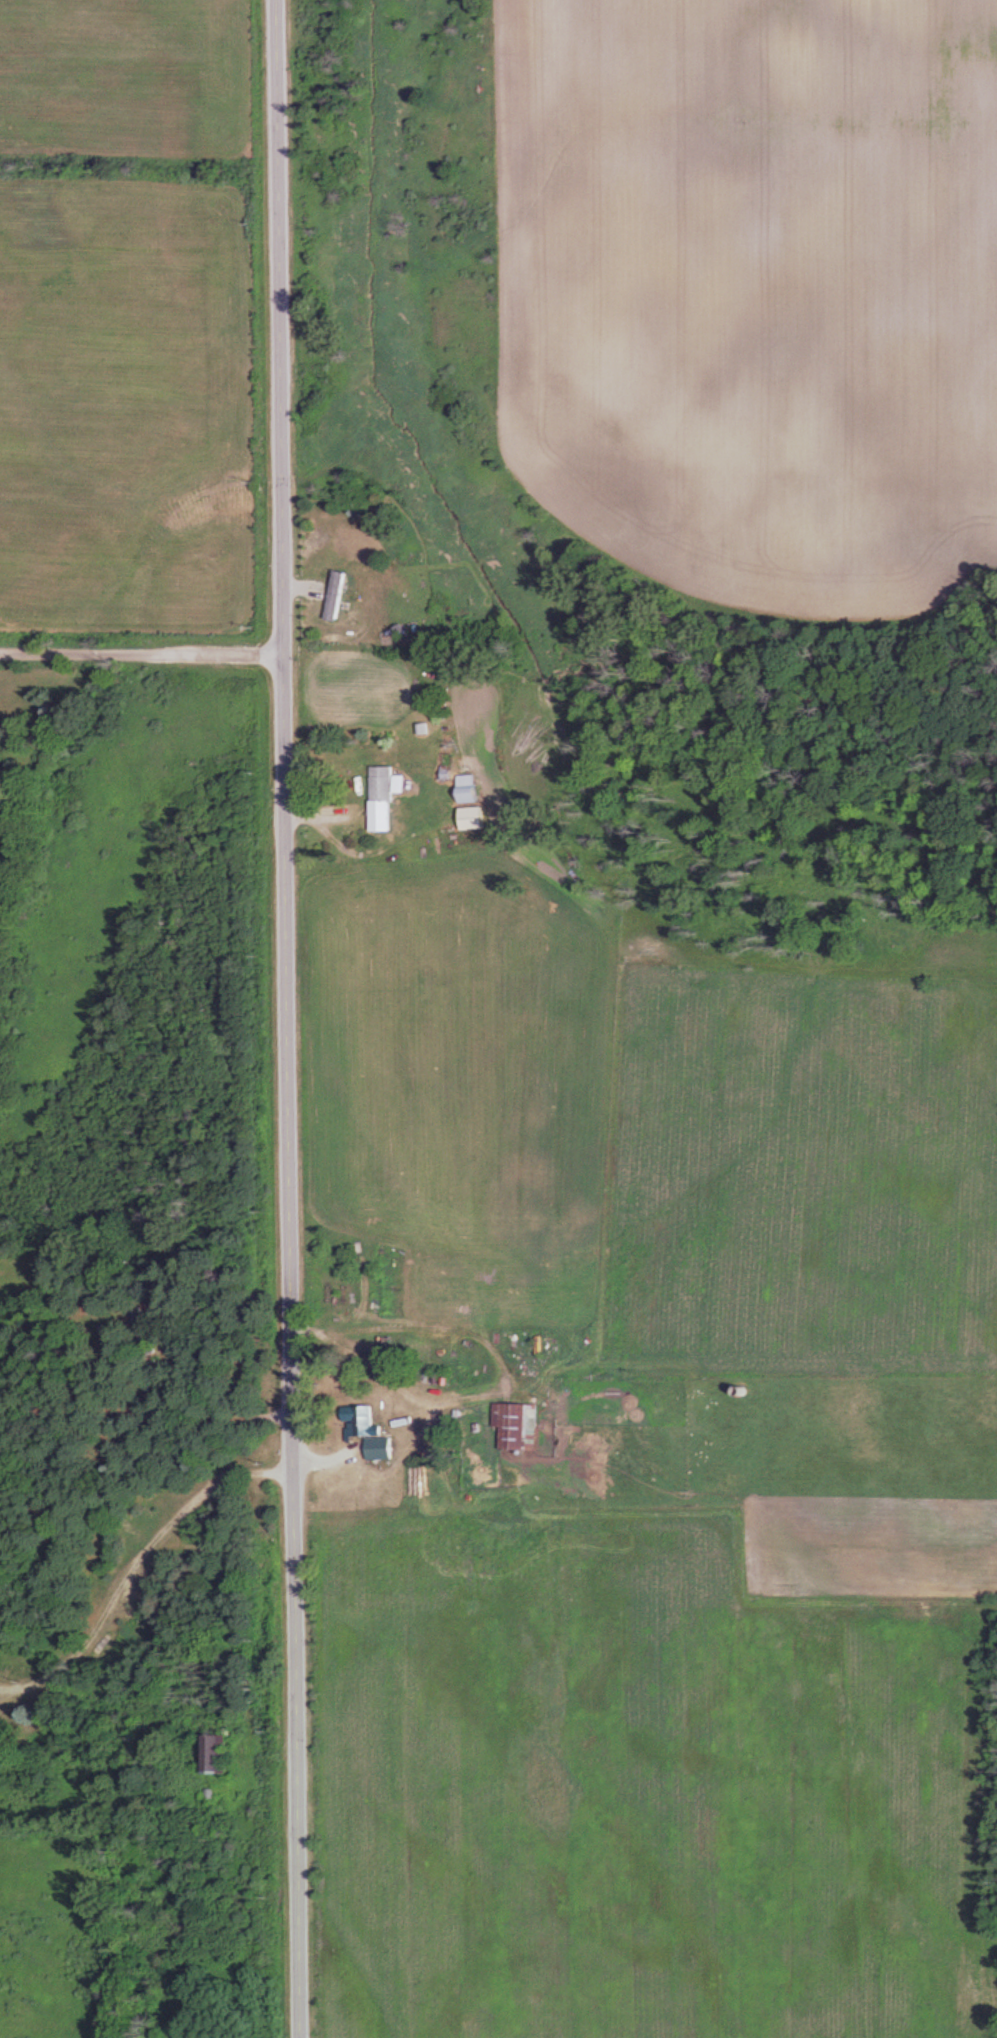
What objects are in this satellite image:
building: (338, 595)
road: (143, 651)
building: (472, 793)
building: (385, 799)
road: (287, 1018)
building: (143, 1327)
road: (446, 1395)
building: (517, 1427)
building: (384, 1448)
road: (130, 1558)
building: (216, 1754)

